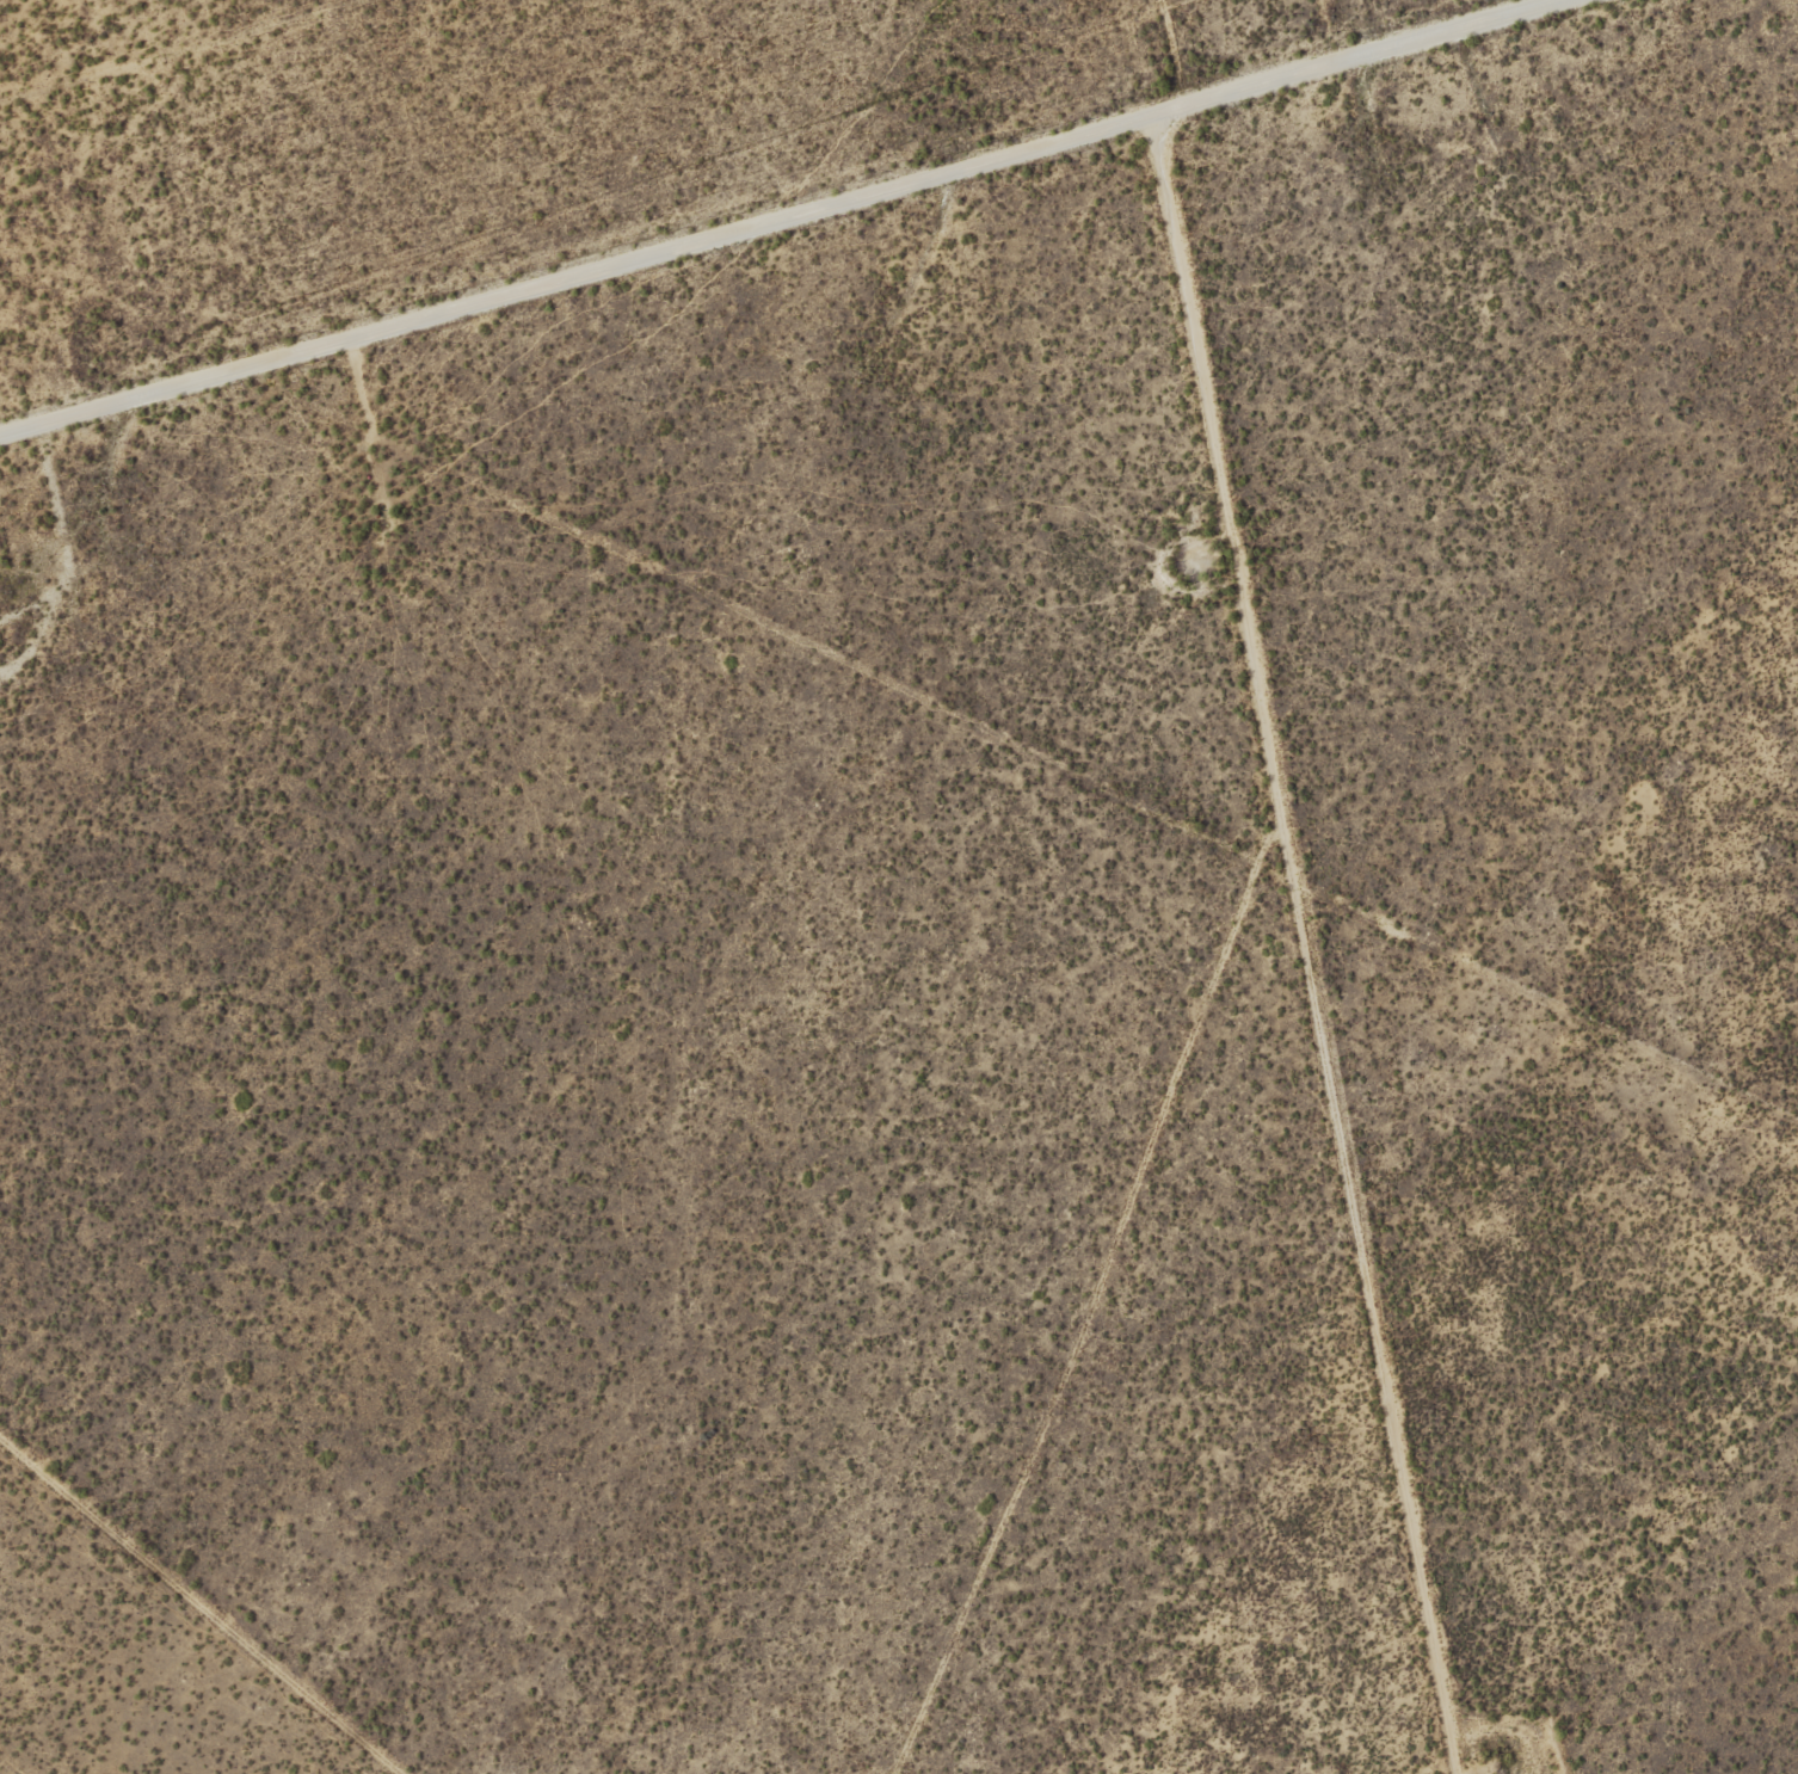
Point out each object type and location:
road: (803, 223)

